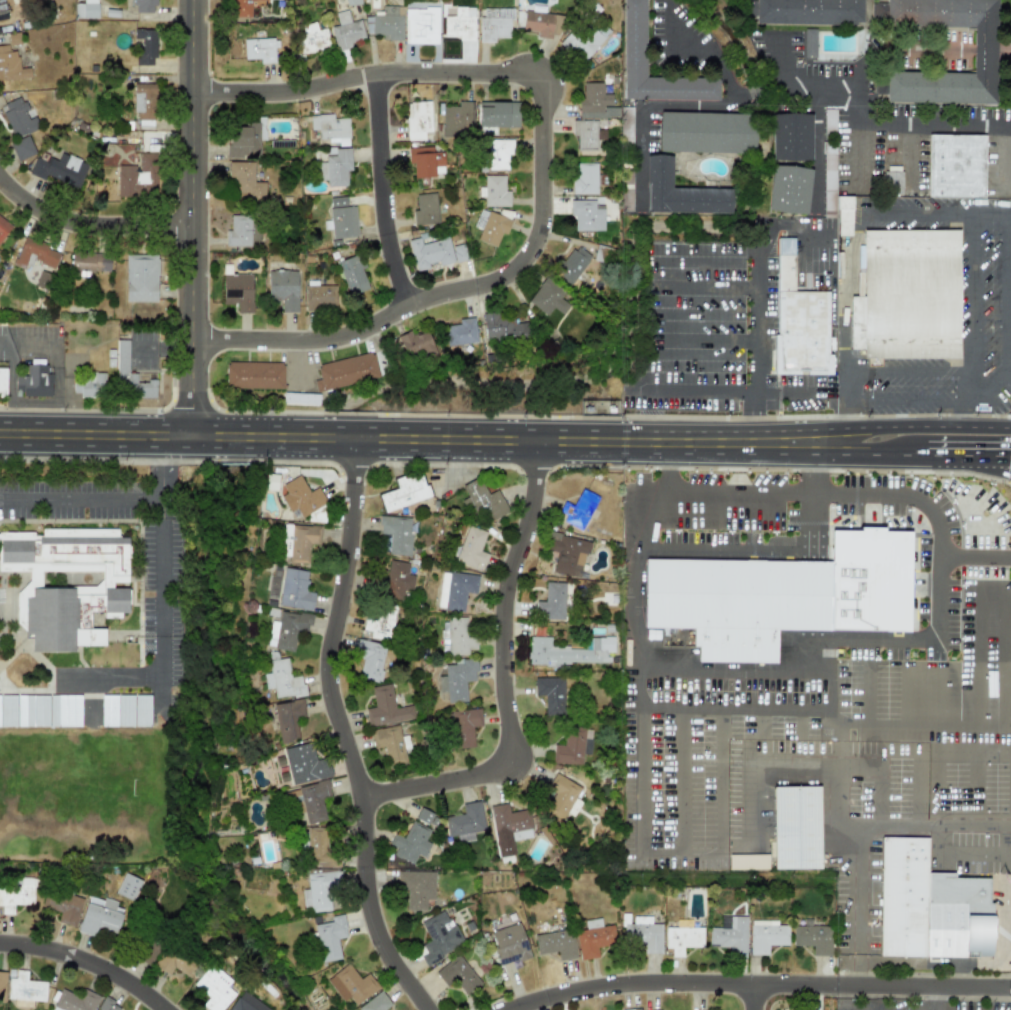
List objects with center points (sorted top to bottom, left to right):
building: (352, 2)
building: (144, 6)
building: (238, 8)
building: (85, 9)
building: (2, 11)
building: (807, 11)
building: (387, 22)
building: (460, 23)
building: (541, 23)
building: (494, 24)
building: (420, 25)
building: (345, 30)
building: (312, 38)
building: (634, 38)
building: (580, 41)
building: (810, 42)
building: (145, 46)
building: (259, 49)
building: (984, 49)
road: (711, 55)
building: (11, 65)
road: (373, 88)
road: (758, 91)
building: (144, 101)
building: (595, 102)
road: (673, 106)
building: (497, 114)
building: (17, 117)
building: (417, 119)
building: (457, 119)
road: (875, 119)
building: (829, 120)
building: (625, 123)
building: (330, 128)
building: (706, 132)
building: (586, 133)
building: (791, 136)
building: (242, 140)
building: (22, 147)
road: (816, 147)
building: (499, 148)
road: (860, 152)
building: (425, 161)
building: (955, 165)
building: (335, 167)
building: (60, 170)
building: (138, 176)
road: (2, 177)
building: (584, 178)
building: (245, 181)
building: (893, 182)
building: (788, 189)
building: (680, 191)
building: (494, 194)
road: (394, 200)
building: (425, 209)
building: (585, 213)
road: (193, 215)
building: (341, 218)
building: (479, 219)
building: (3, 228)
building: (492, 228)
road: (85, 230)
building: (241, 231)
road: (846, 247)
building: (433, 252)
building: (34, 254)
road: (707, 256)
building: (89, 262)
building: (571, 264)
building: (352, 274)
building: (140, 277)
road: (703, 286)
building: (283, 288)
building: (237, 291)
road: (970, 291)
building: (910, 295)
building: (319, 297)
building: (548, 297)
road: (458, 301)
road: (1010, 310)
building: (798, 320)
building: (502, 328)
building: (460, 331)
road: (702, 341)
building: (414, 345)
road: (1010, 355)
road: (56, 356)
building: (346, 371)
road: (906, 373)
building: (254, 374)
building: (129, 376)
building: (33, 380)
building: (2, 382)
building: (88, 384)
road: (702, 390)
road: (798, 391)
road: (12, 392)
building: (300, 398)
road: (906, 400)
road: (970, 400)
road: (649, 413)
road: (756, 414)
road: (924, 426)
road: (421, 433)
road: (881, 453)
road: (968, 454)
road: (165, 466)
road: (810, 467)
building: (271, 482)
building: (405, 492)
road: (831, 495)
building: (303, 500)
building: (483, 500)
road: (83, 502)
building: (578, 510)
building: (396, 534)
building: (299, 542)
building: (471, 549)
building: (567, 554)
road: (635, 561)
building: (397, 580)
building: (67, 583)
building: (456, 589)
building: (295, 590)
building: (781, 595)
building: (551, 602)
road: (164, 608)
building: (380, 621)
building: (287, 630)
building: (459, 636)
road: (892, 639)
building: (570, 651)
building: (369, 659)
road: (1004, 664)
road: (751, 668)
road: (513, 675)
road: (112, 678)
building: (457, 679)
building: (282, 680)
building: (551, 694)
building: (386, 708)
road: (659, 709)
road: (702, 709)
building: (8, 710)
building: (32, 710)
building: (65, 710)
building: (117, 710)
building: (142, 710)
road: (779, 710)
road: (834, 717)
building: (288, 719)
road: (343, 727)
building: (464, 727)
road: (968, 727)
road: (834, 734)
building: (389, 743)
building: (573, 746)
building: (304, 764)
road: (1009, 766)
building: (562, 797)
building: (314, 801)
road: (725, 805)
building: (423, 815)
building: (465, 820)
building: (510, 824)
road: (968, 824)
road: (888, 826)
building: (797, 828)
building: (411, 843)
road: (640, 844)
building: (317, 846)
road: (960, 856)
building: (748, 862)
building: (128, 887)
building: (416, 888)
building: (320, 891)
building: (15, 894)
road: (1010, 905)
building: (929, 906)
road: (852, 907)
building: (66, 908)
building: (99, 916)
building: (643, 935)
building: (730, 935)
building: (766, 936)
building: (438, 937)
building: (330, 938)
building: (594, 938)
building: (813, 938)
building: (682, 939)
building: (509, 944)
building: (556, 944)
building: (149, 953)
road: (954, 964)
road: (88, 965)
building: (458, 975)
road: (957, 976)
building: (351, 984)
road: (759, 984)
building: (2, 986)
building: (25, 988)
building: (214, 988)
road: (754, 997)
road: (935, 998)
building: (75, 1001)
building: (246, 1003)
building: (375, 1003)
building: (108, 1005)
road: (868, 1008)
building: (631, 1009)

